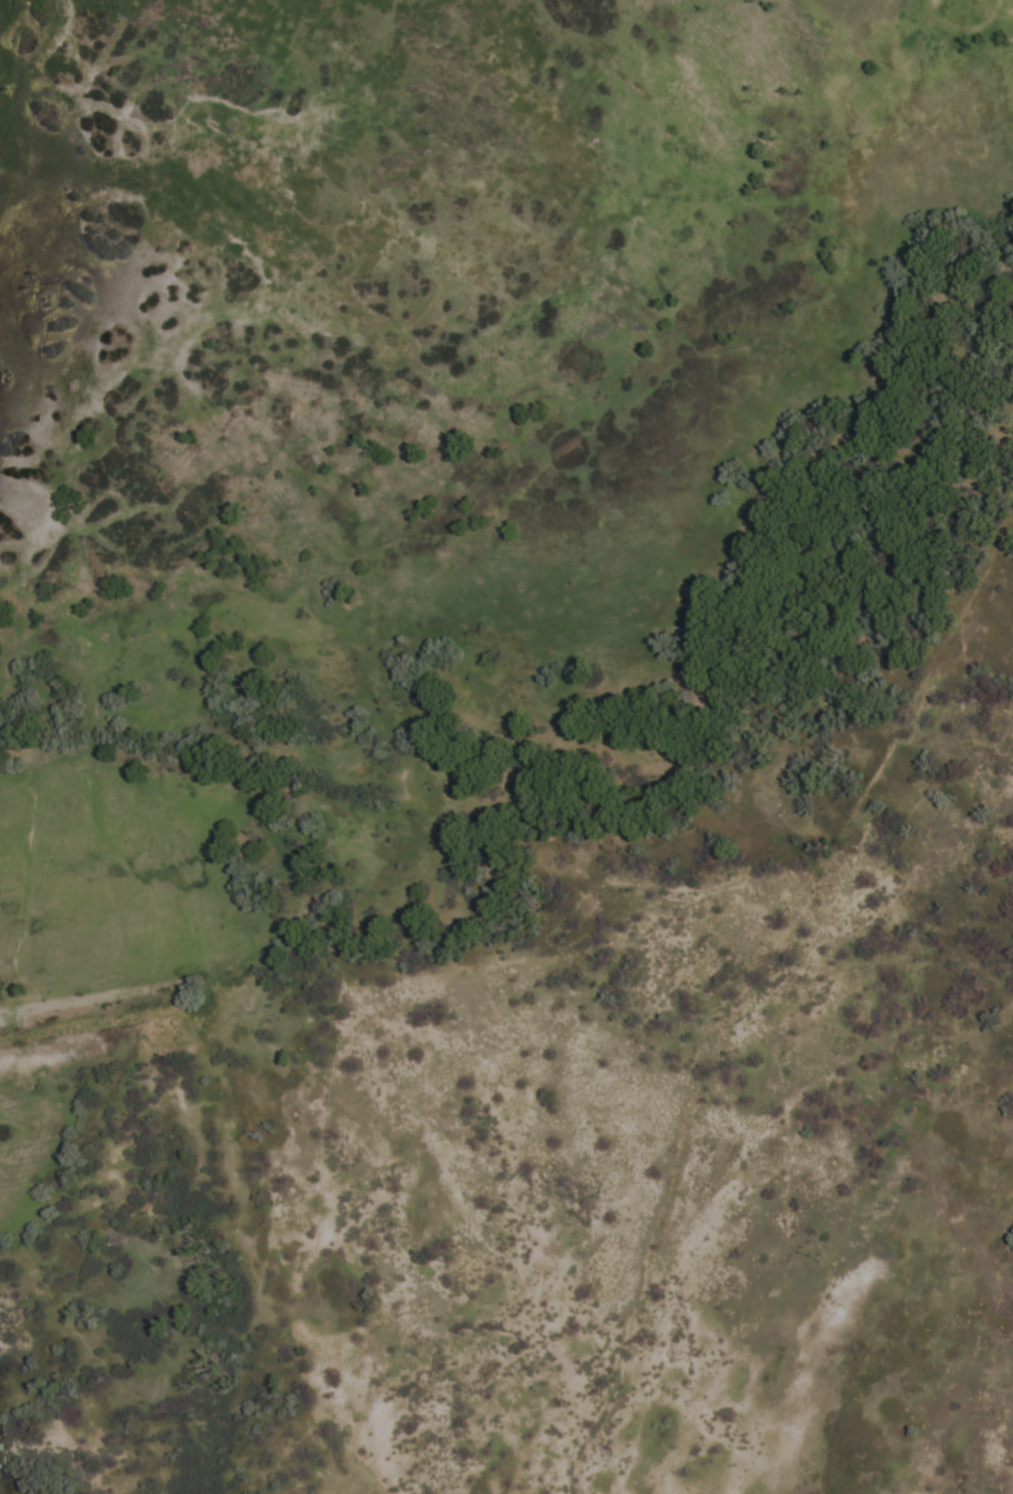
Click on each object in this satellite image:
road: (130, 1015)
road: (24, 1035)

